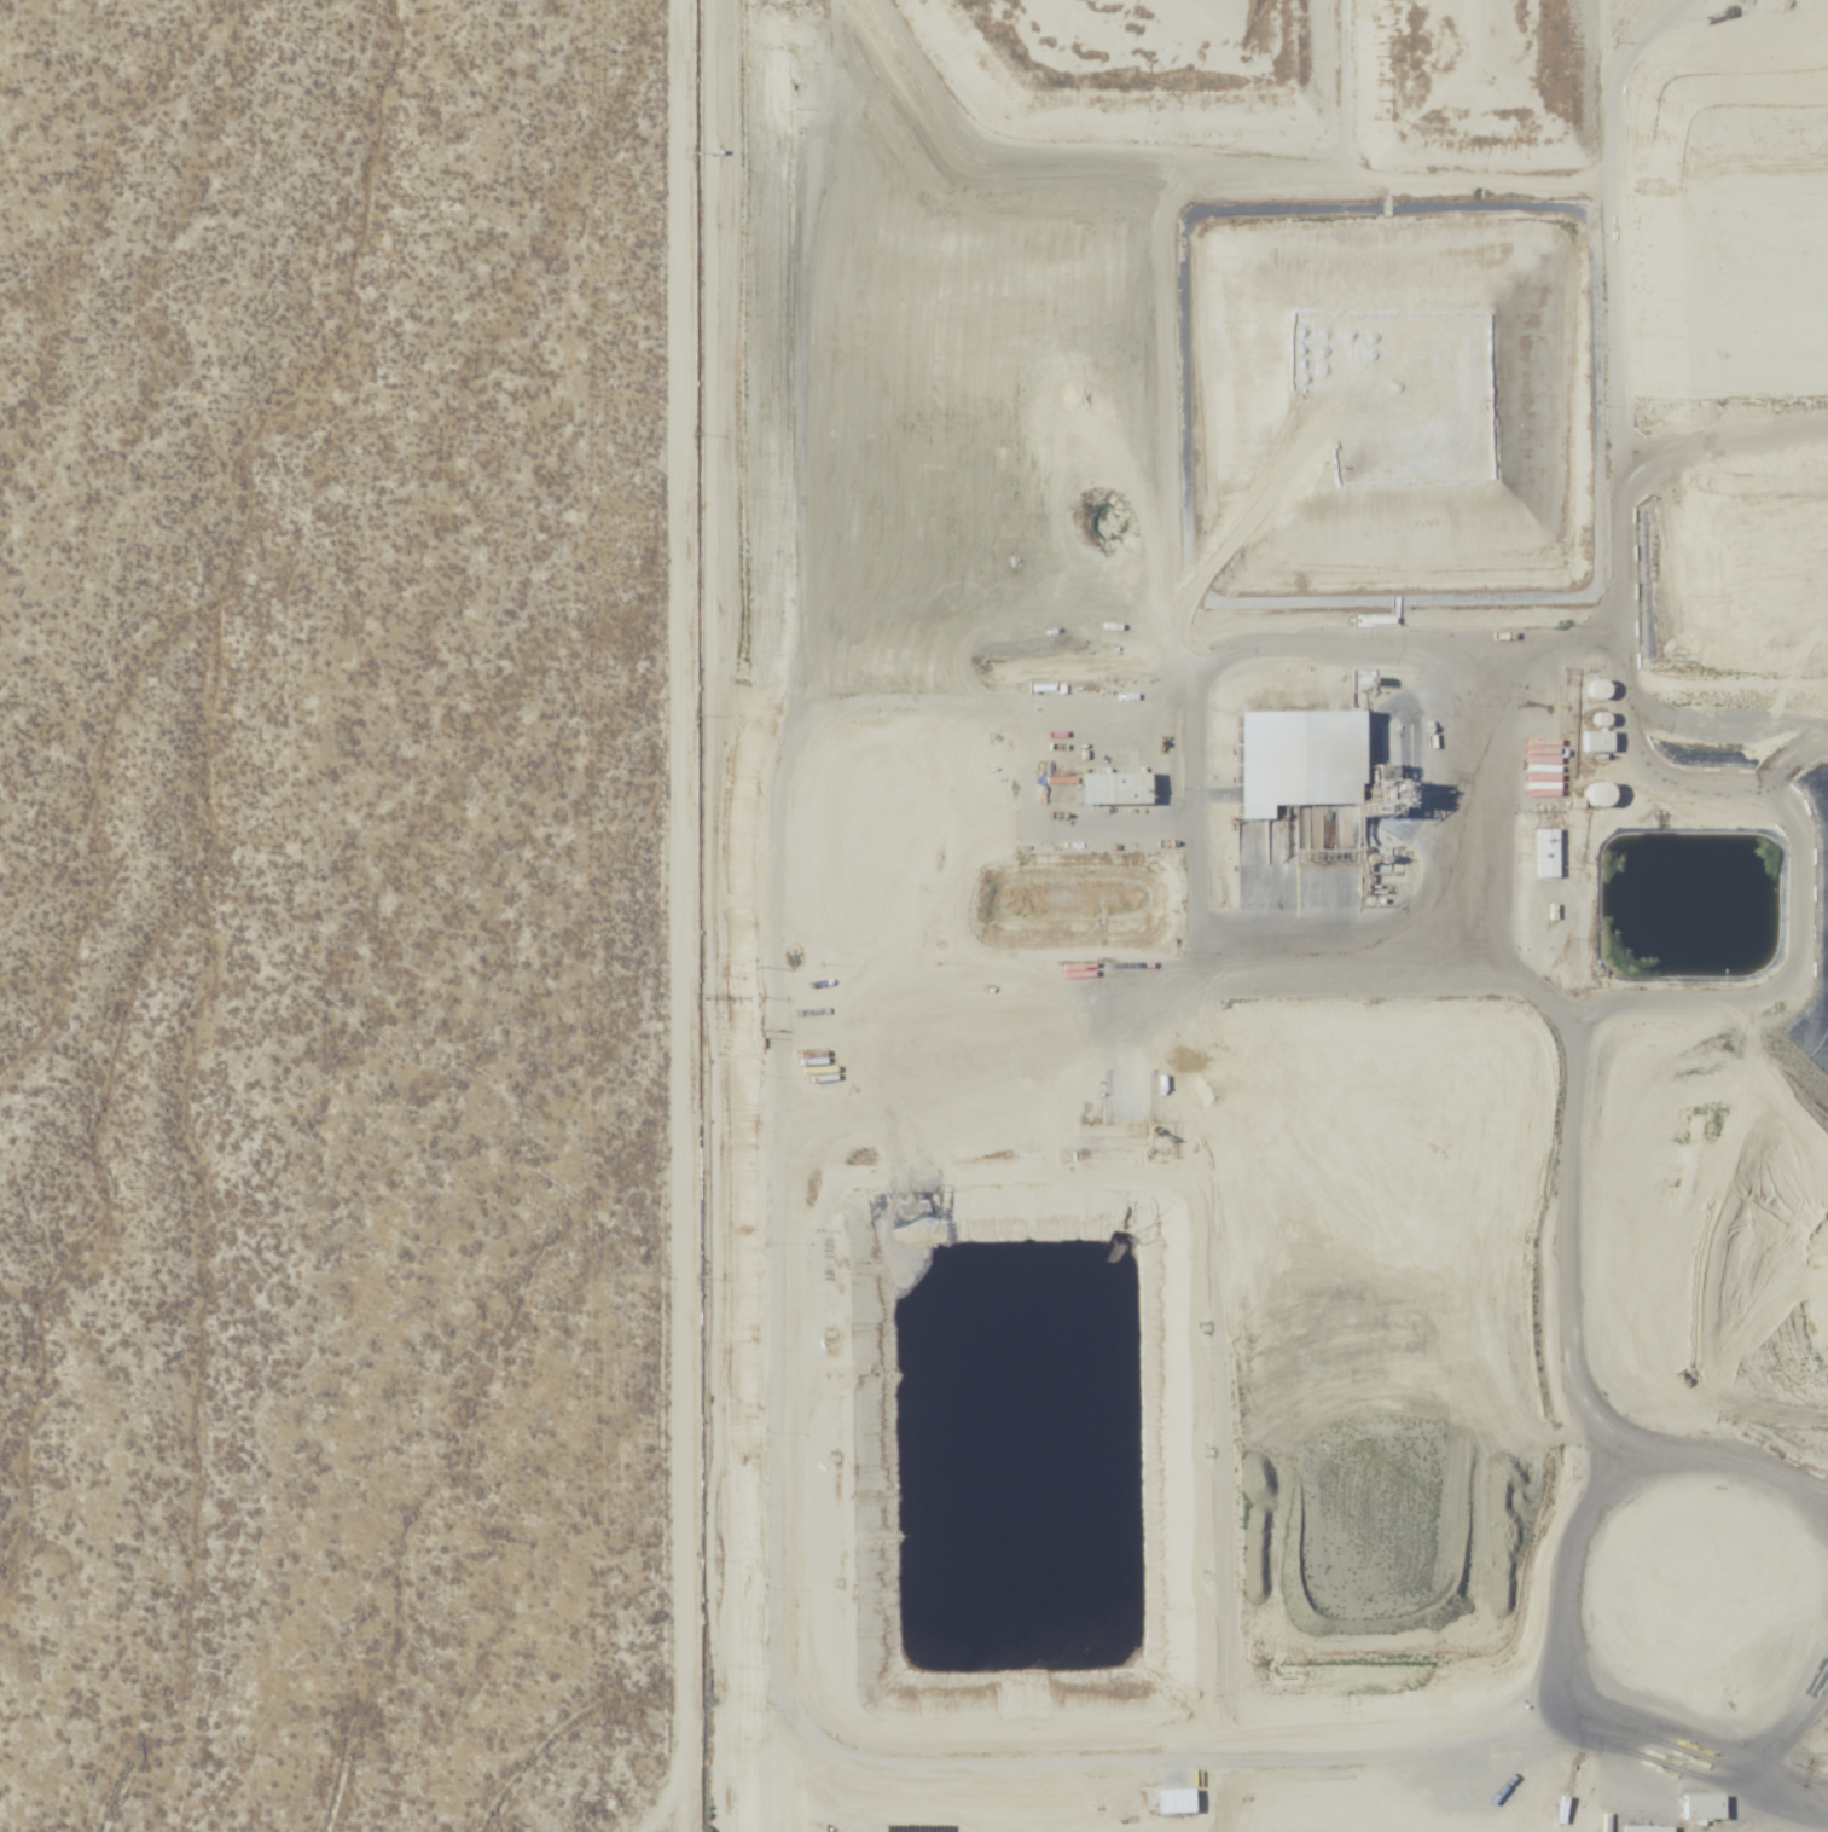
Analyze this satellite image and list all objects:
building: (1602, 740)
building: (1306, 759)
building: (1121, 787)
landfill: (1226, 916)
building: (1179, 1802)
building: (1693, 1807)
building: (1643, 1828)

